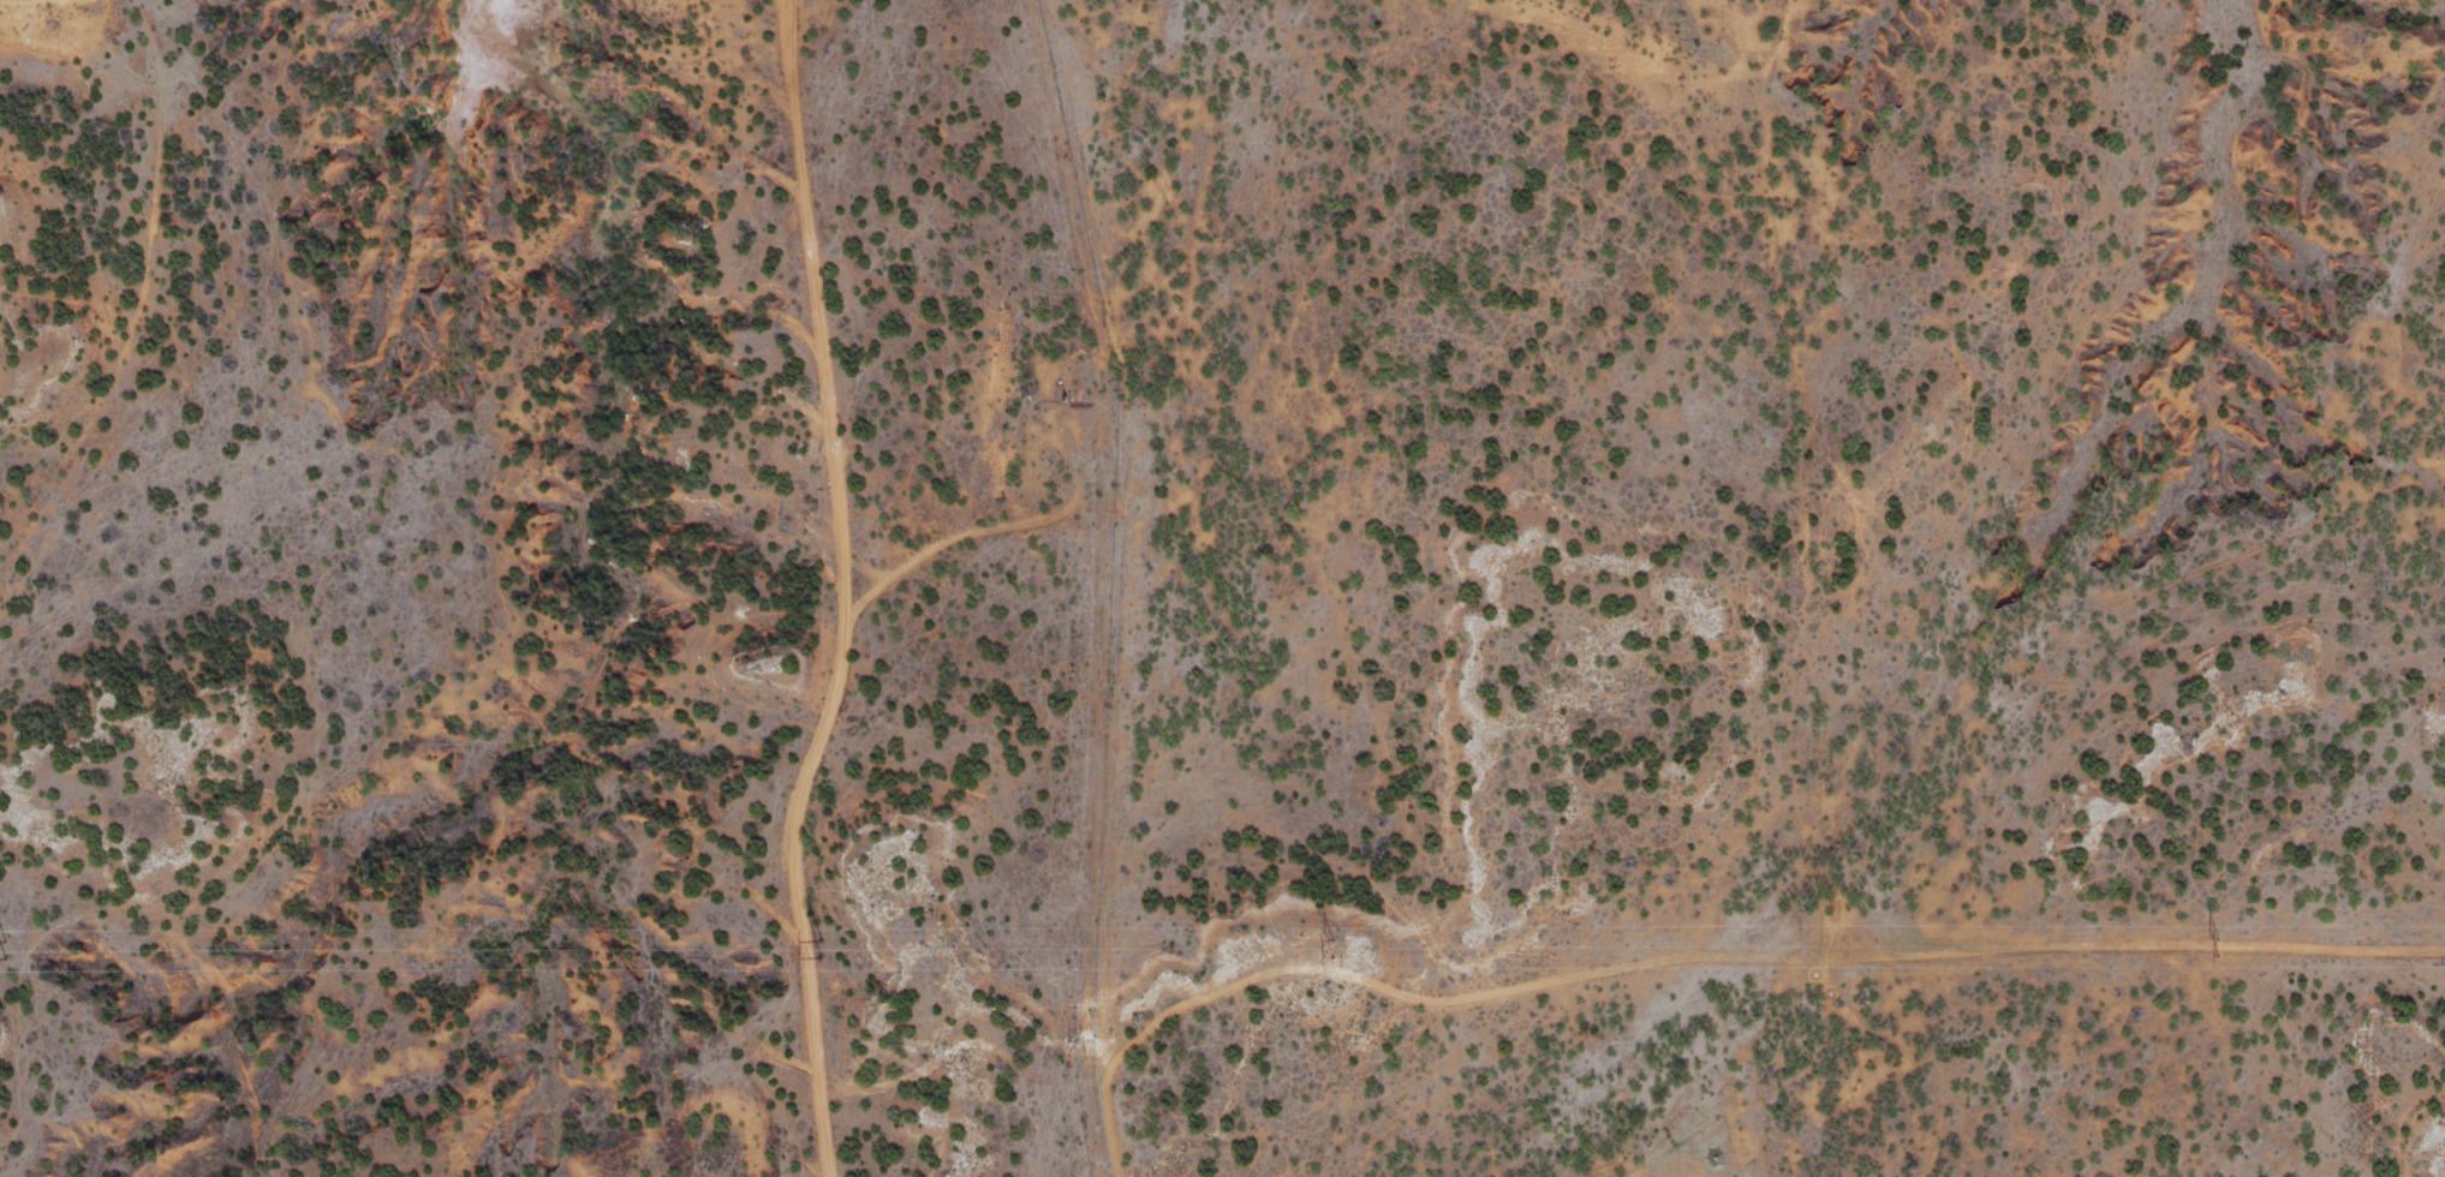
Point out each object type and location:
road: (836, 590)
power tower: (1328, 945)
power tower: (2211, 945)
power tower: (821, 949)

